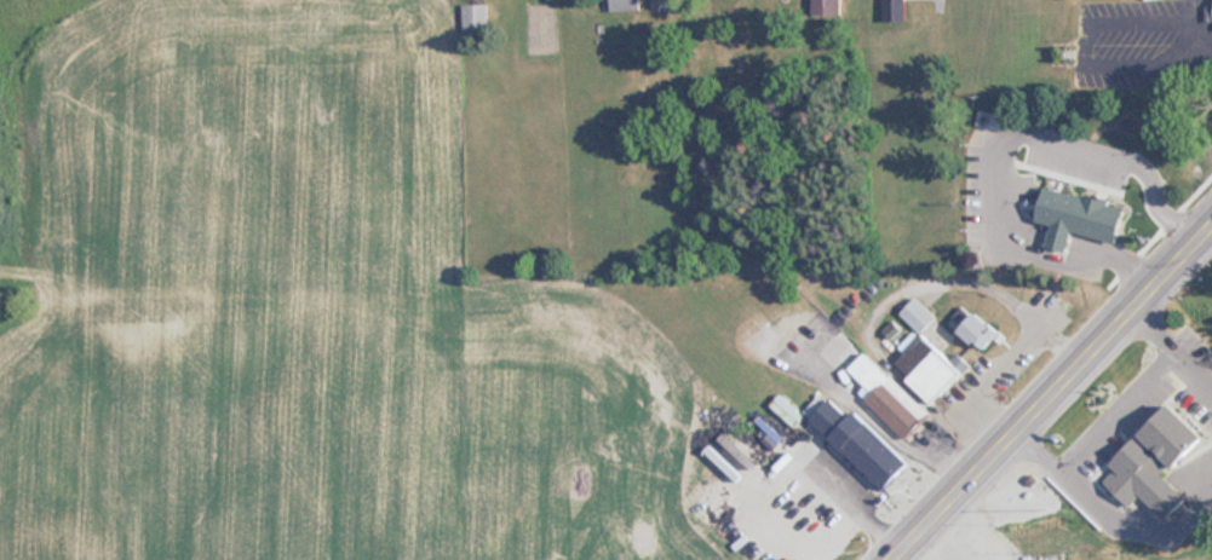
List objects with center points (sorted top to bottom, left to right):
building: (624, 4)
building: (827, 6)
building: (894, 10)
building: (1078, 213)
building: (917, 314)
building: (980, 331)
building: (930, 360)
road: (1050, 392)
building: (886, 394)
road: (1115, 411)
building: (860, 441)
building: (1154, 461)
road: (961, 533)

